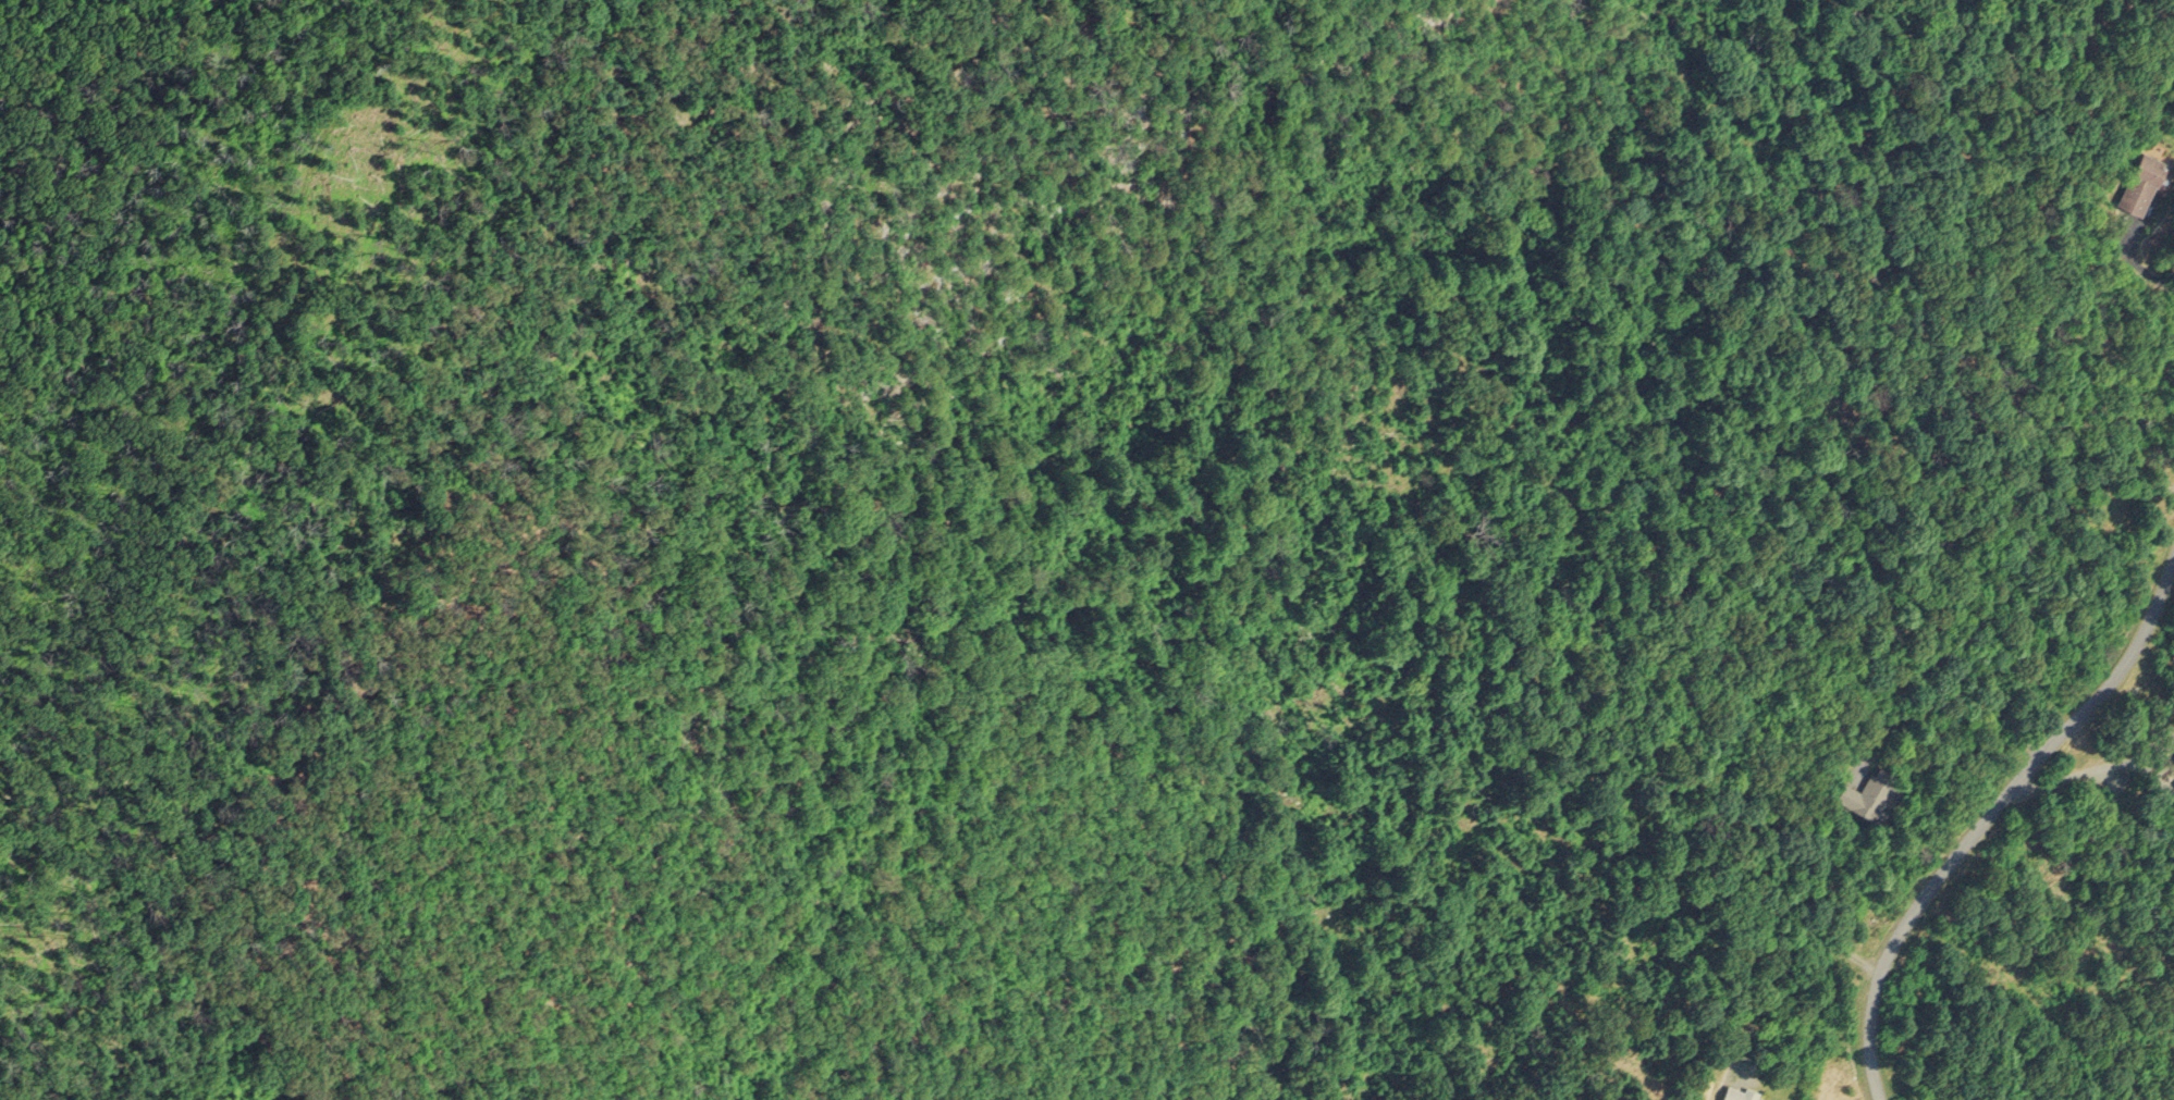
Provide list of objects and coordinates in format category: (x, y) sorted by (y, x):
building: (2139, 180)
road: (2137, 263)
road: (164, 355)
road: (1949, 703)
building: (2173, 752)
building: (1870, 790)
road: (1985, 804)
road: (1772, 952)
building: (1737, 1091)

